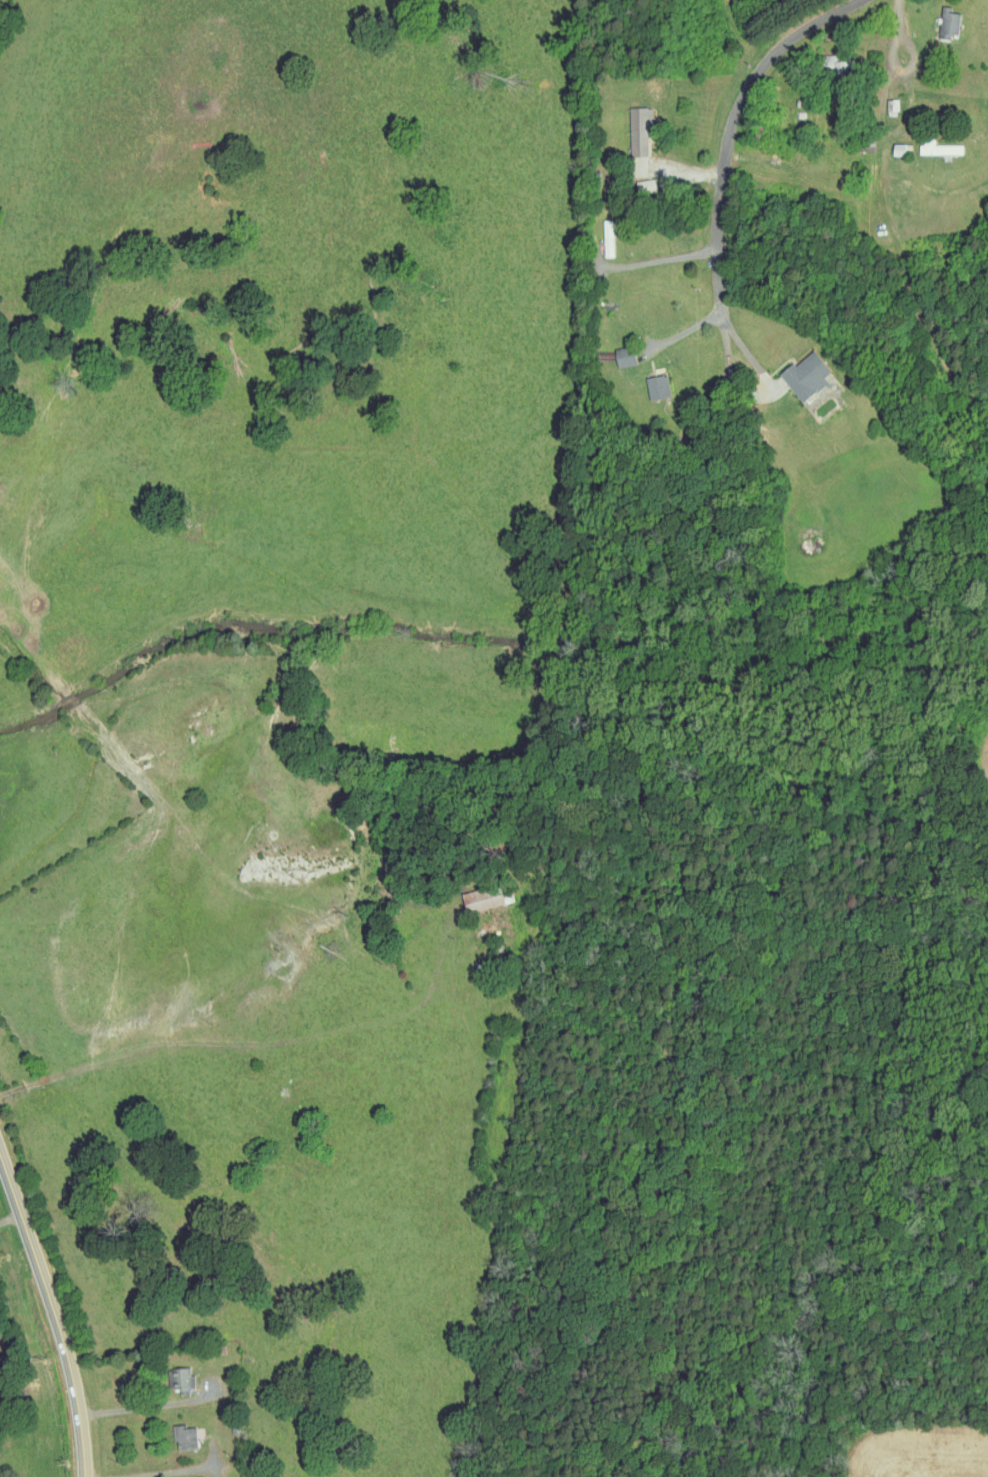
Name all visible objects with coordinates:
road: (943, 9)
building: (948, 24)
road: (840, 44)
road: (918, 60)
building: (824, 66)
building: (638, 130)
building: (861, 144)
building: (937, 148)
road: (767, 149)
road: (724, 164)
road: (684, 166)
building: (644, 186)
road: (667, 257)
road: (687, 331)
road: (745, 354)
building: (624, 357)
building: (805, 375)
building: (657, 387)
building: (485, 896)
road: (263, 1041)
road: (11, 1218)
road: (54, 1309)
road: (148, 1358)
building: (181, 1378)
road: (129, 1394)
building: (184, 1436)
road: (144, 1468)

